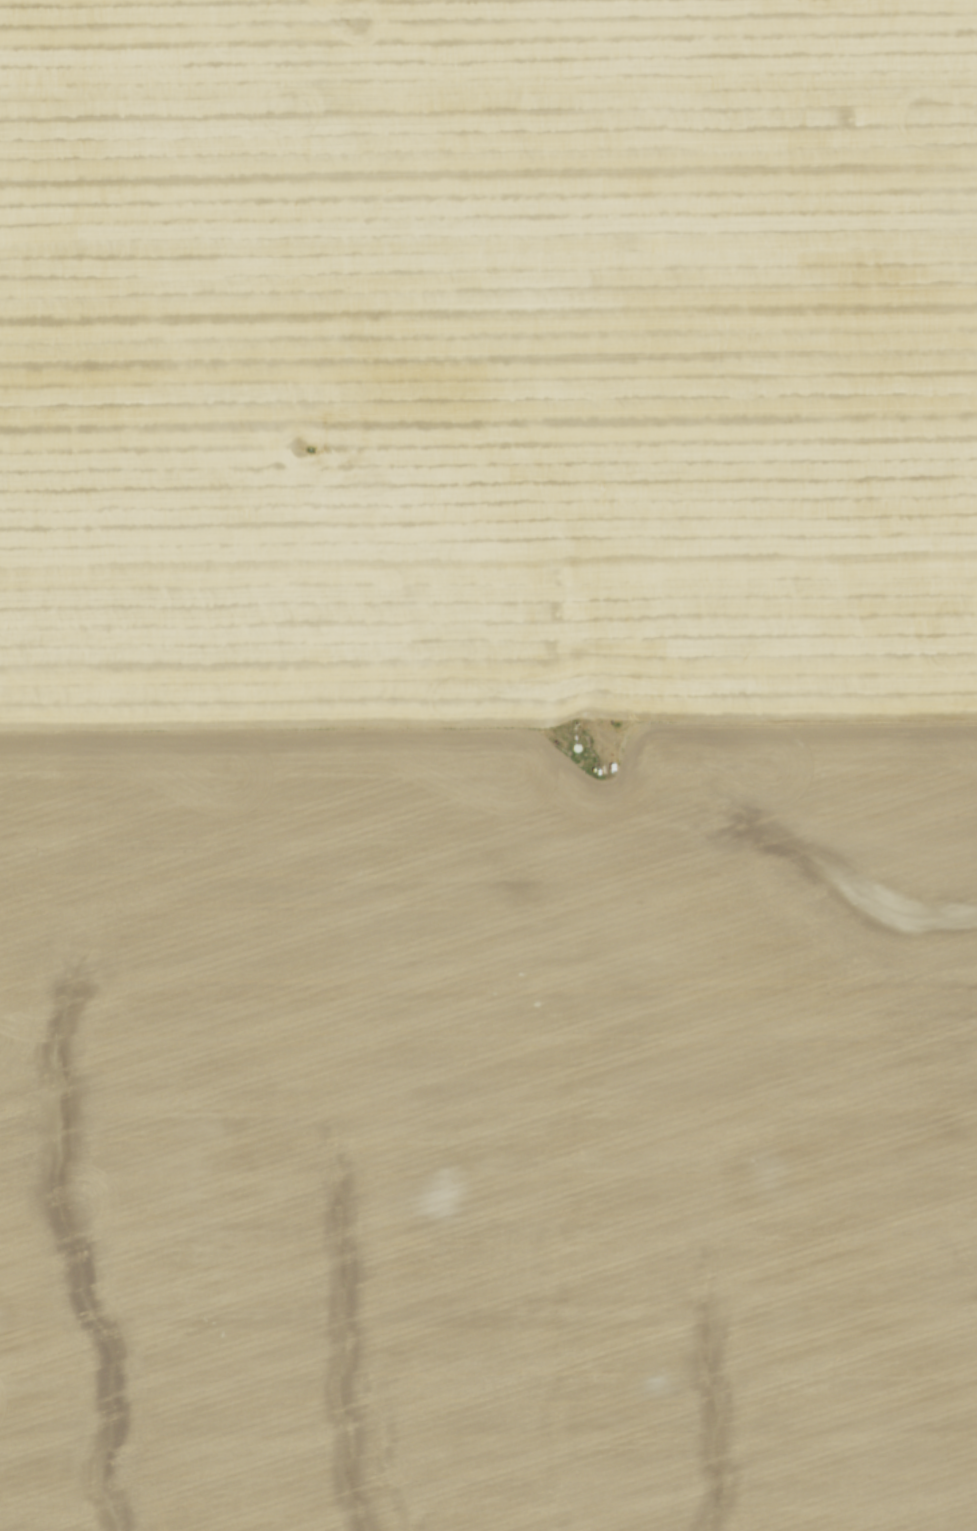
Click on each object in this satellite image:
crop: (488, 765)

